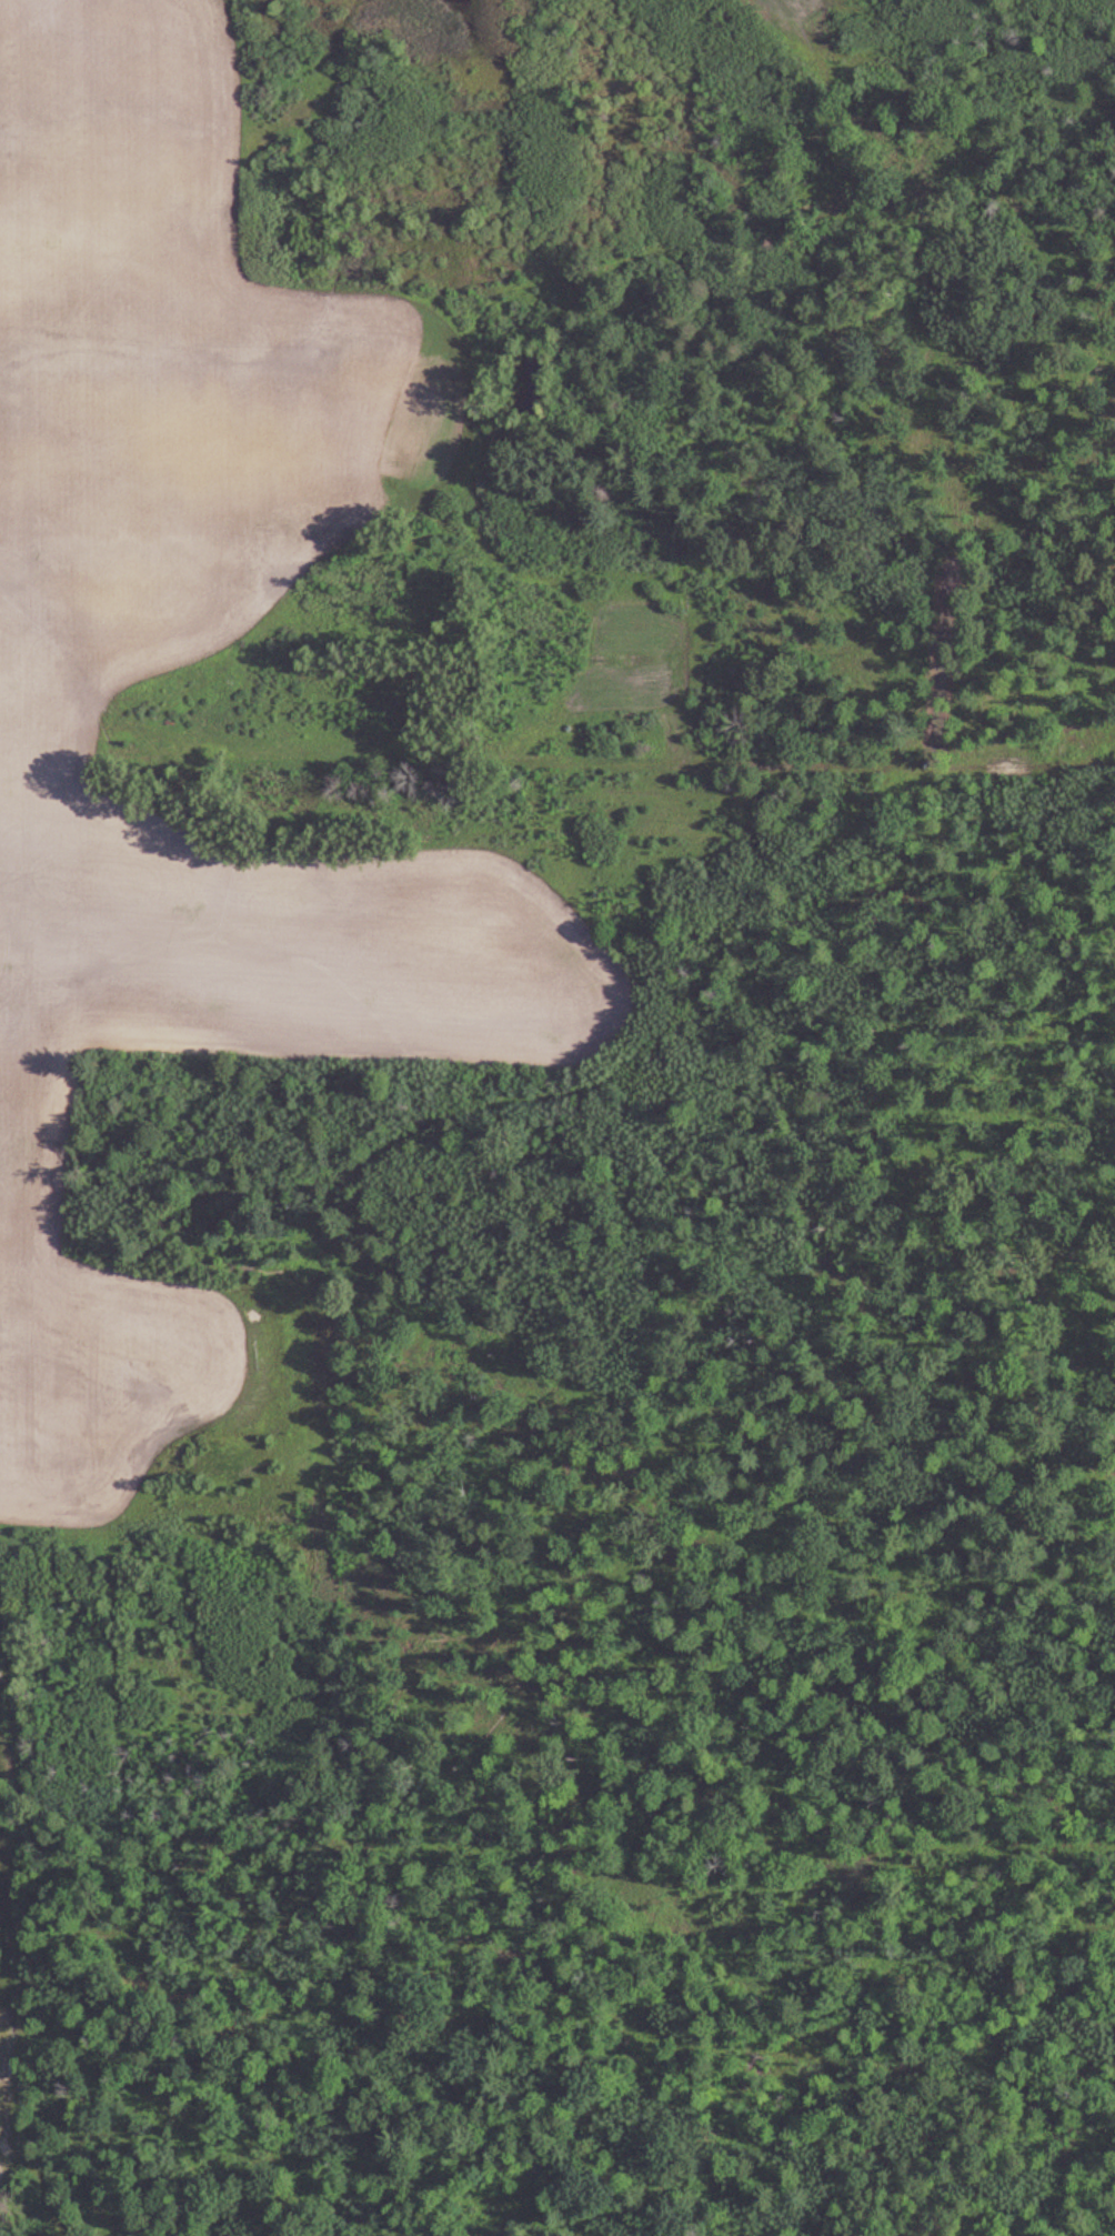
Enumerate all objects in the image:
crop: (33, 770)
road: (4, 1872)
road: (4, 2108)
road: (38, 2184)

